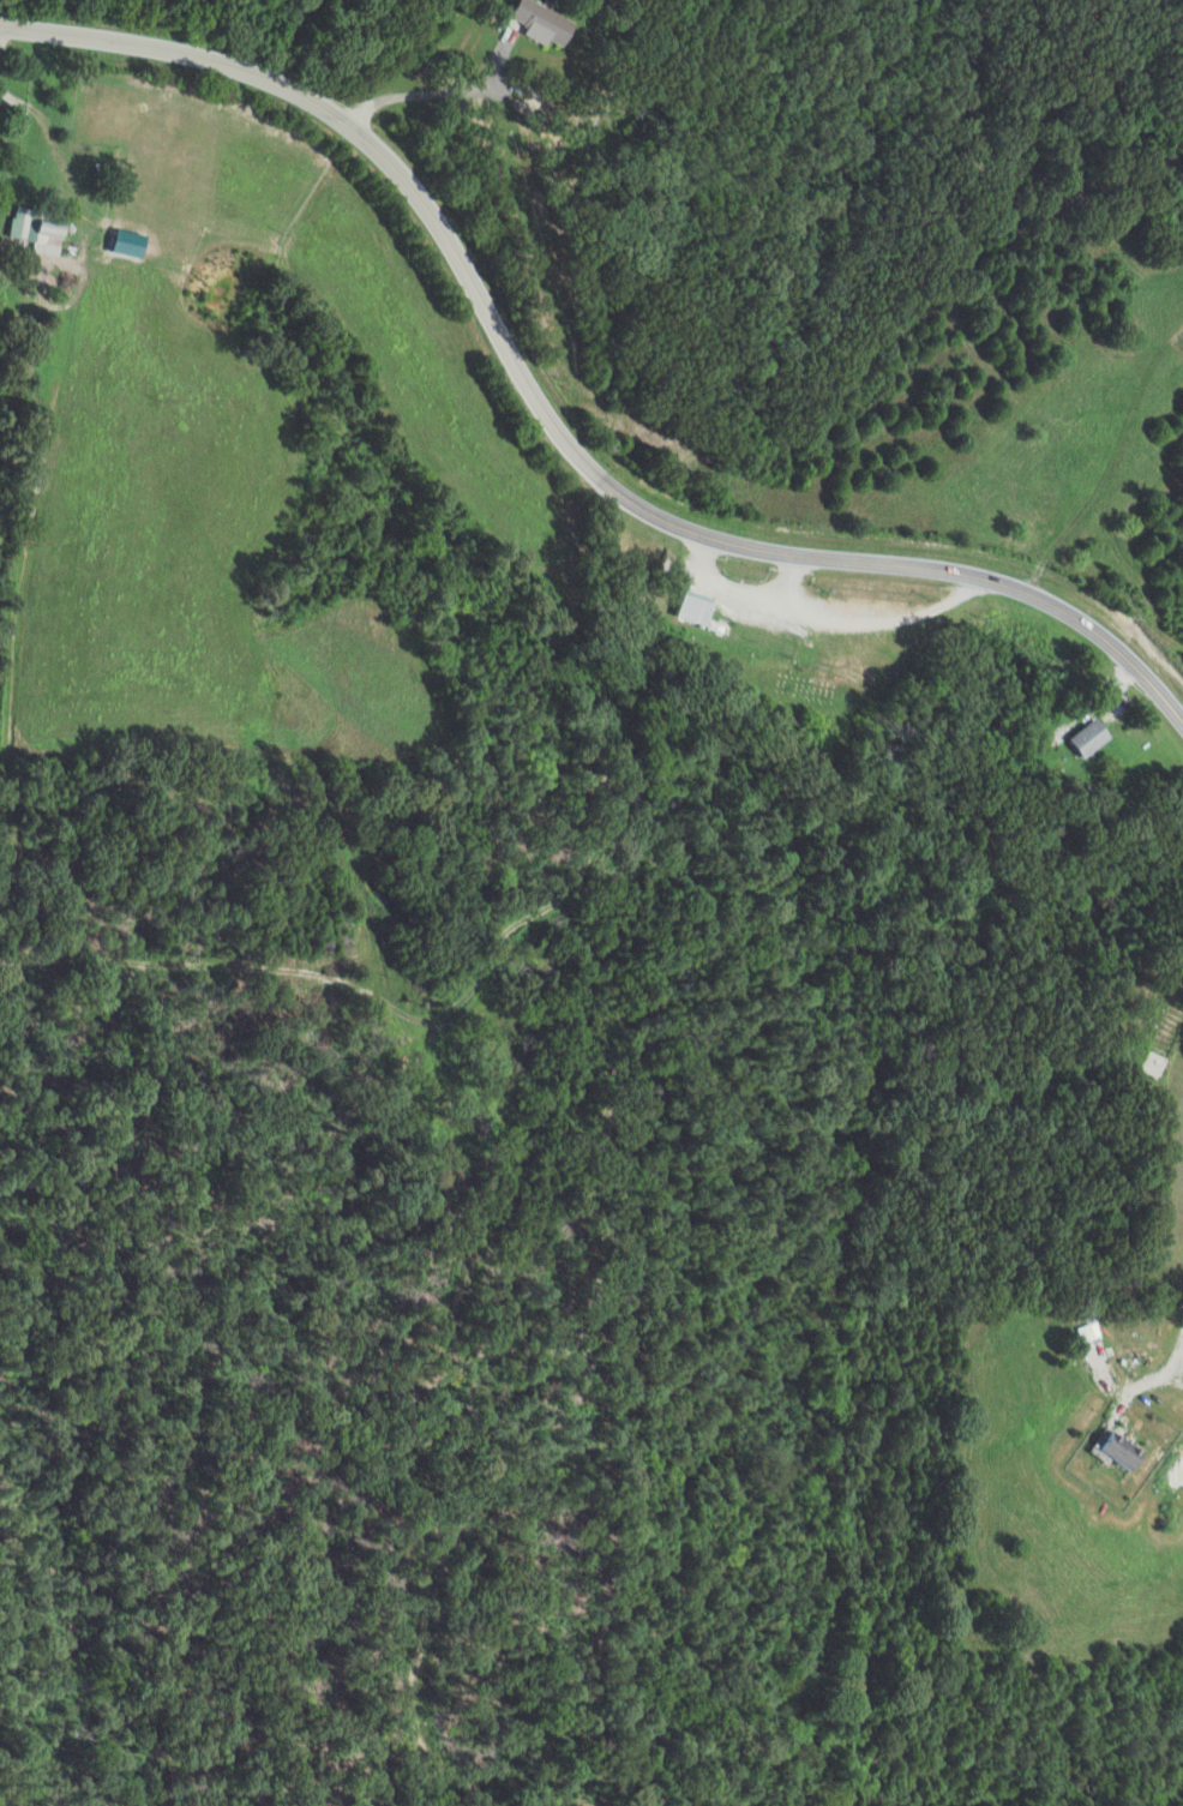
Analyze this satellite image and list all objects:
building: (542, 22)
road: (422, 95)
building: (36, 230)
road: (548, 427)
road: (1109, 448)
building: (701, 608)
building: (1092, 737)
road: (1181, 1052)
road: (1165, 1352)
building: (1125, 1453)

